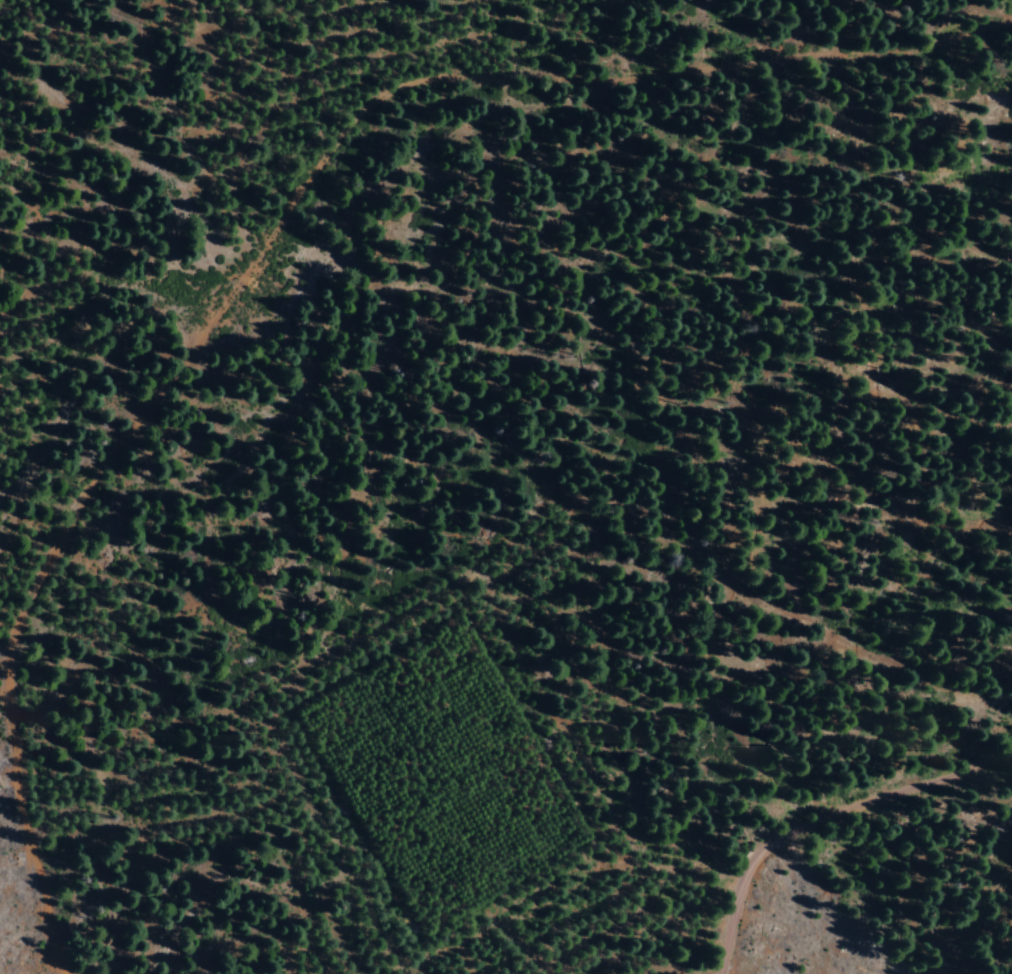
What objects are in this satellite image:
road: (270, 240)
road: (825, 812)

